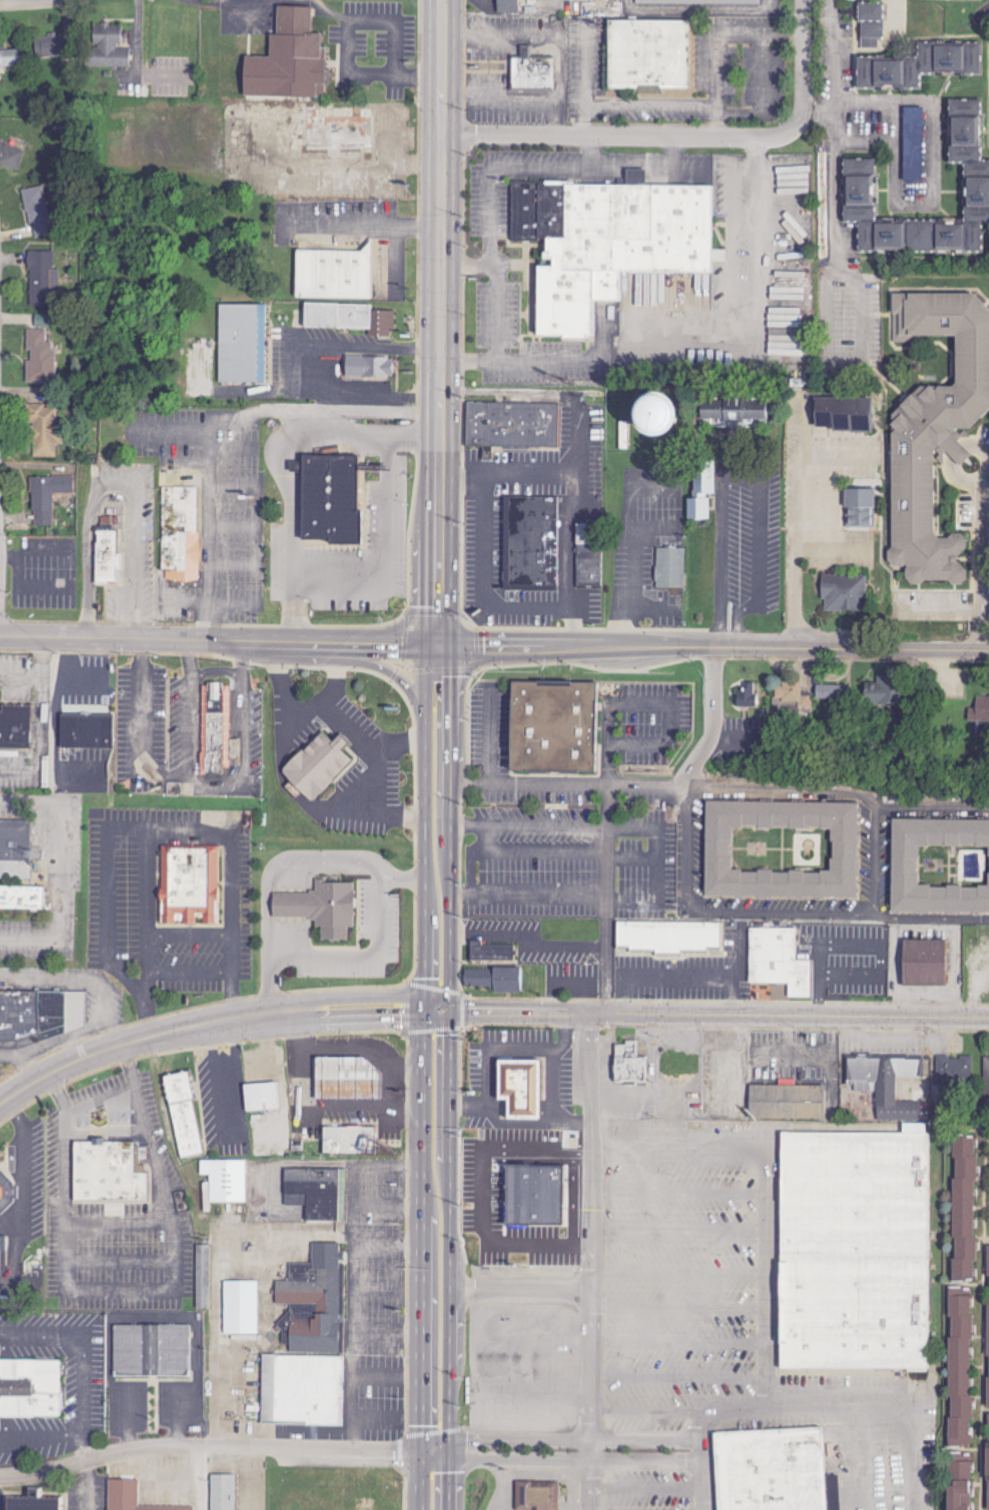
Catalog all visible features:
road: (0, 0)
building: (701, 2)
building: (508, 6)
building: (870, 21)
road: (351, 43)
building: (51, 46)
building: (108, 48)
building: (647, 55)
building: (9, 58)
building: (288, 61)
road: (804, 65)
building: (917, 66)
building: (532, 72)
road: (617, 137)
building: (913, 145)
road: (595, 153)
building: (10, 155)
road: (505, 169)
road: (936, 178)
road: (835, 184)
building: (858, 193)
building: (38, 212)
building: (604, 239)
road: (468, 267)
building: (334, 274)
building: (45, 281)
building: (337, 302)
building: (593, 318)
building: (348, 319)
building: (41, 321)
road: (438, 321)
water tower: (630, 340)
building: (242, 343)
building: (40, 358)
road: (518, 360)
building: (369, 366)
road: (305, 371)
road: (575, 408)
building: (845, 414)
building: (735, 415)
building: (513, 424)
building: (44, 431)
building: (935, 431)
road: (954, 446)
road: (983, 447)
road: (801, 457)
road: (275, 460)
road: (747, 473)
road: (961, 481)
road: (111, 482)
building: (701, 489)
building: (49, 495)
building: (329, 498)
road: (797, 501)
road: (837, 501)
building: (860, 507)
building: (180, 533)
road: (383, 542)
building: (534, 542)
building: (107, 557)
road: (793, 563)
road: (978, 565)
building: (671, 567)
road: (481, 573)
road: (348, 589)
building: (844, 592)
road: (217, 640)
traffic signals: (434, 643)
road: (711, 647)
road: (237, 656)
road: (186, 657)
road: (212, 669)
building: (883, 691)
building: (831, 692)
road: (291, 694)
building: (747, 695)
building: (791, 696)
building: (980, 710)
road: (184, 722)
road: (715, 722)
road: (239, 724)
building: (16, 725)
road: (139, 725)
road: (351, 729)
building: (217, 730)
building: (87, 732)
building: (562, 735)
road: (493, 738)
building: (324, 773)
road: (378, 789)
road: (207, 791)
road: (560, 791)
road: (838, 802)
road: (387, 822)
road: (455, 826)
road: (543, 826)
road: (160, 834)
building: (15, 849)
road: (533, 852)
building: (725, 856)
road: (473, 869)
building: (910, 871)
building: (195, 891)
road: (521, 895)
building: (22, 897)
road: (606, 902)
road: (152, 907)
building: (321, 907)
road: (782, 915)
building: (668, 935)
road: (195, 943)
building: (491, 952)
road: (354, 954)
building: (778, 960)
building: (923, 963)
road: (435, 968)
road: (687, 975)
road: (184, 979)
building: (493, 979)
traffic signals: (434, 1013)
road: (788, 1015)
building: (39, 1016)
road: (285, 1017)
road: (493, 1058)
building: (629, 1063)
building: (958, 1068)
building: (345, 1077)
building: (986, 1080)
building: (887, 1085)
building: (519, 1088)
road: (98, 1097)
building: (261, 1097)
building: (787, 1101)
road: (318, 1111)
building: (183, 1115)
road: (540, 1123)
building: (345, 1139)
road: (683, 1143)
road: (592, 1152)
building: (109, 1171)
building: (225, 1180)
building: (7, 1191)
building: (315, 1191)
road: (683, 1194)
building: (972, 1215)
road: (684, 1241)
building: (3, 1243)
building: (861, 1259)
road: (684, 1274)
road: (511, 1293)
road: (684, 1306)
building: (240, 1308)
parking lot: (618, 1310)
road: (592, 1313)
road: (987, 1324)
road: (685, 1337)
building: (309, 1345)
building: (153, 1351)
road: (778, 1358)
building: (988, 1358)
building: (966, 1375)
road: (631, 1377)
road: (590, 1378)
road: (484, 1379)
building: (30, 1388)
road: (432, 1402)
road: (890, 1417)
road: (648, 1422)
road: (590, 1439)
road: (214, 1446)
traffic signals: (432, 1454)
road: (511, 1455)
building: (987, 1455)
road: (650, 1458)
building: (779, 1471)
road: (505, 1482)
road: (591, 1483)
building: (966, 1487)
road: (651, 1488)
building: (223, 1492)
building: (537, 1496)
building: (130, 1497)
building: (33, 1501)

